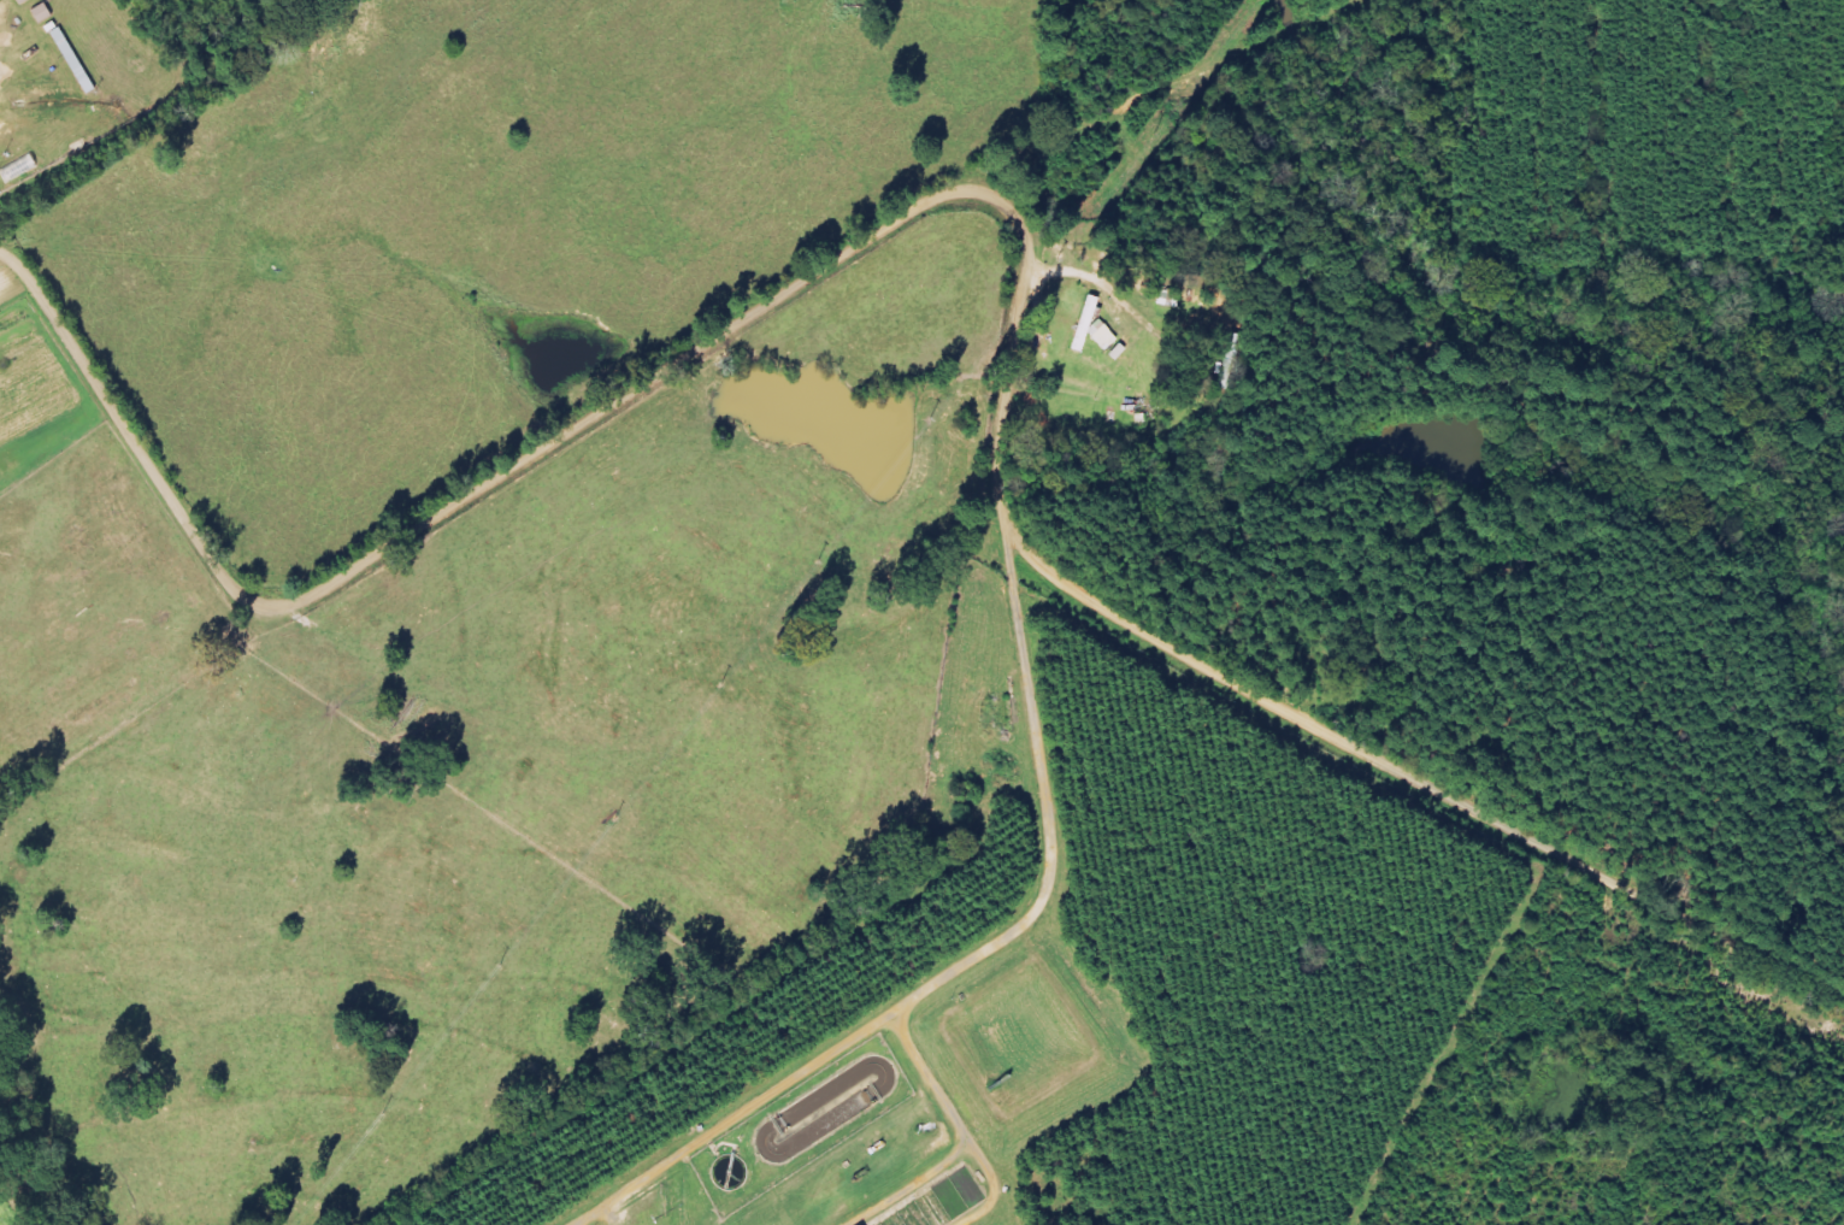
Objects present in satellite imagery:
building: (26, 1)
building: (47, 12)
road: (371, 556)
road: (1192, 654)

